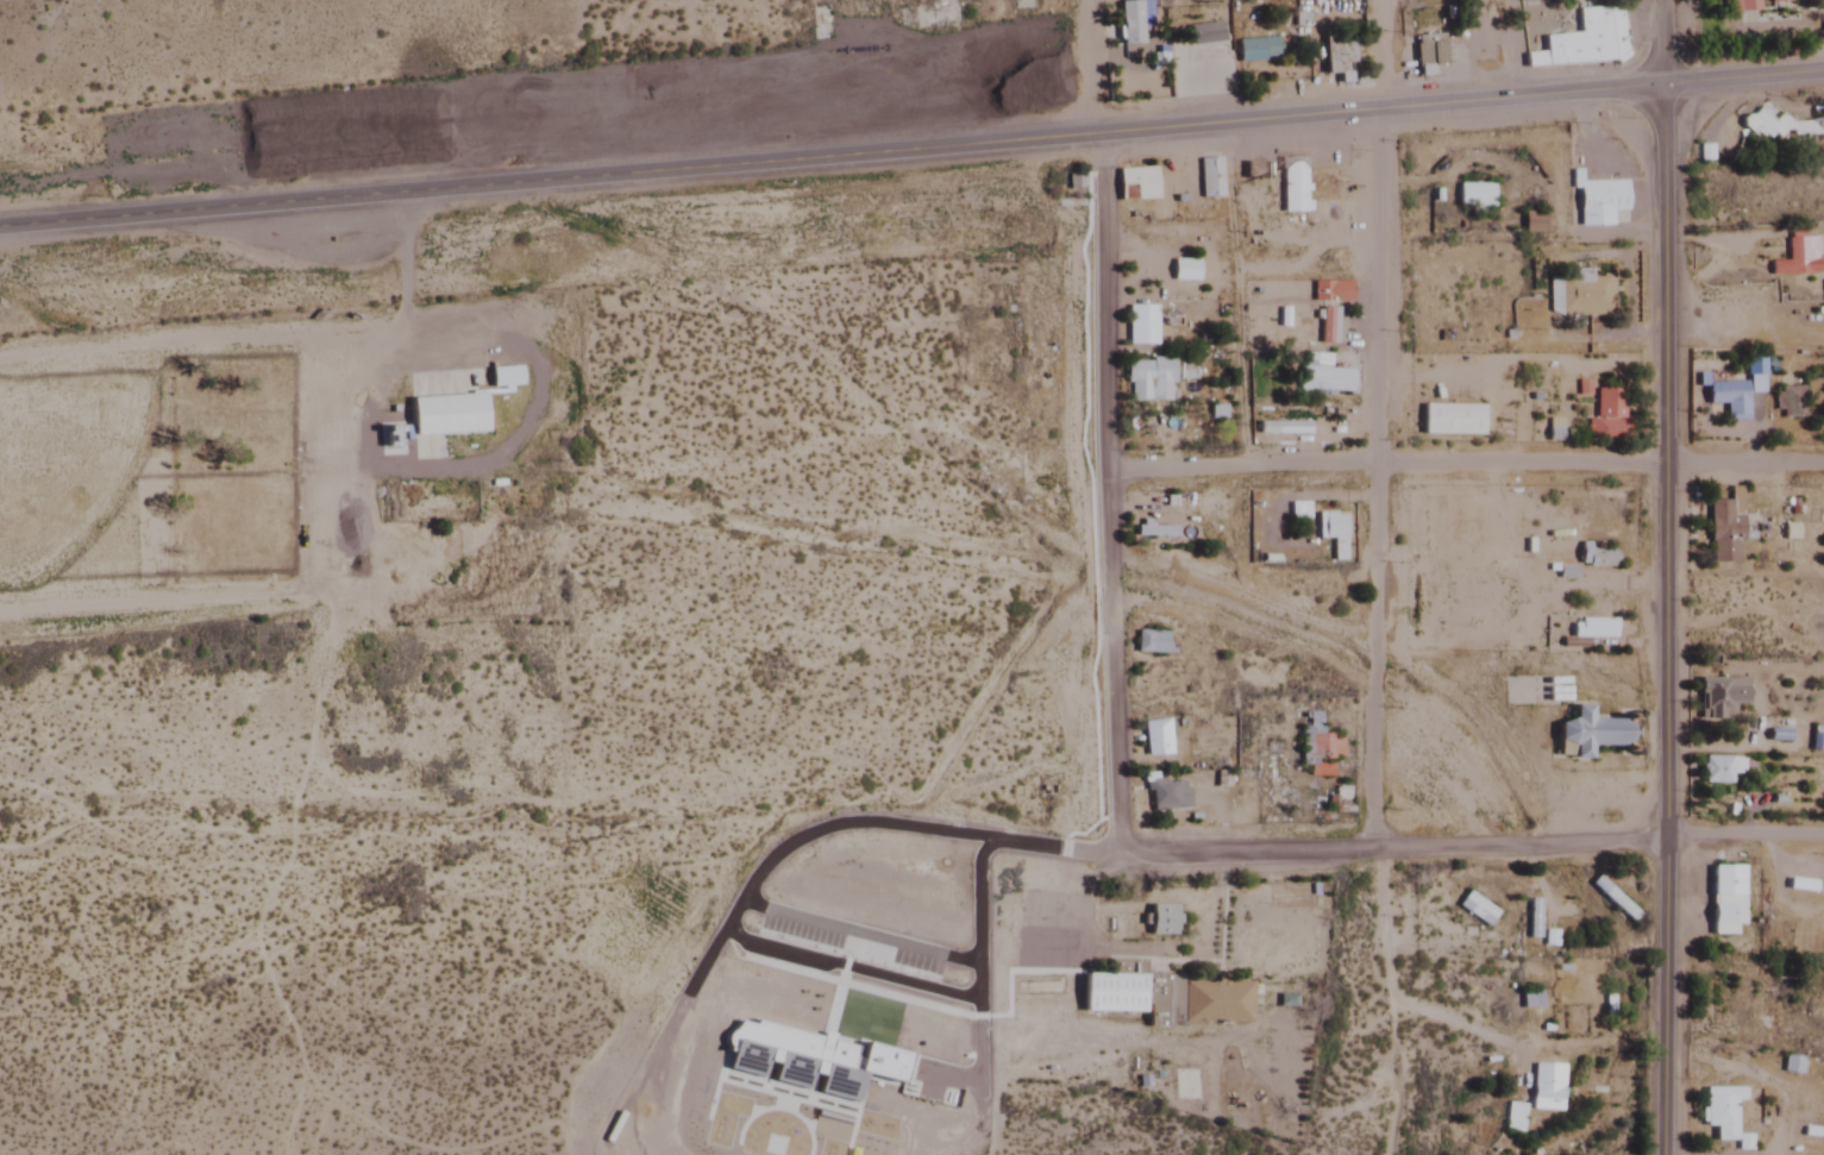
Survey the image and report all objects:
building: (1205, 1)
building: (1778, 1)
building: (1748, 6)
building: (928, 13)
building: (1129, 24)
building: (1202, 36)
building: (1579, 43)
building: (1255, 50)
building: (1427, 52)
building: (1337, 56)
building: (1422, 69)
gas station: (1422, 69)
building: (1776, 126)
road: (911, 149)
building: (1209, 178)
building: (1074, 182)
building: (1135, 183)
building: (1291, 188)
building: (1473, 195)
building: (1598, 201)
building: (1530, 224)
building: (1795, 255)
building: (1183, 270)
building: (1330, 293)
building: (1579, 295)
building: (1140, 325)
building: (1325, 326)
building: (1753, 365)
building: (502, 376)
building: (1321, 378)
building: (1147, 379)
building: (1728, 398)
building: (445, 414)
building: (1606, 416)
building: (1450, 419)
road: (1374, 425)
road: (1463, 464)
park: (227, 472)
park: (67, 477)
road: (1104, 494)
building: (1297, 510)
building: (1153, 531)
building: (1722, 531)
building: (1596, 557)
road: (353, 558)
road: (1666, 577)
building: (1563, 582)
building: (1591, 628)
building: (1149, 641)
building: (1718, 697)
building: (1586, 732)
building: (1154, 737)
building: (1816, 739)
building: (1316, 746)
building: (1718, 770)
building: (1165, 795)
road: (816, 833)
road: (1471, 848)
building: (1803, 878)
road: (979, 886)
building: (1612, 899)
building: (1724, 899)
building: (1474, 909)
building: (1161, 919)
parking lot: (800, 935)
road: (860, 936)
building: (1807, 943)
parking lot: (902, 962)
road: (850, 969)
road: (847, 975)
building: (1166, 998)
building: (1529, 999)
road: (980, 1022)
road: (729, 1054)
building: (810, 1061)
road: (951, 1075)
parking lot: (938, 1085)
building: (1544, 1086)
road: (811, 1110)
building: (1719, 1111)

